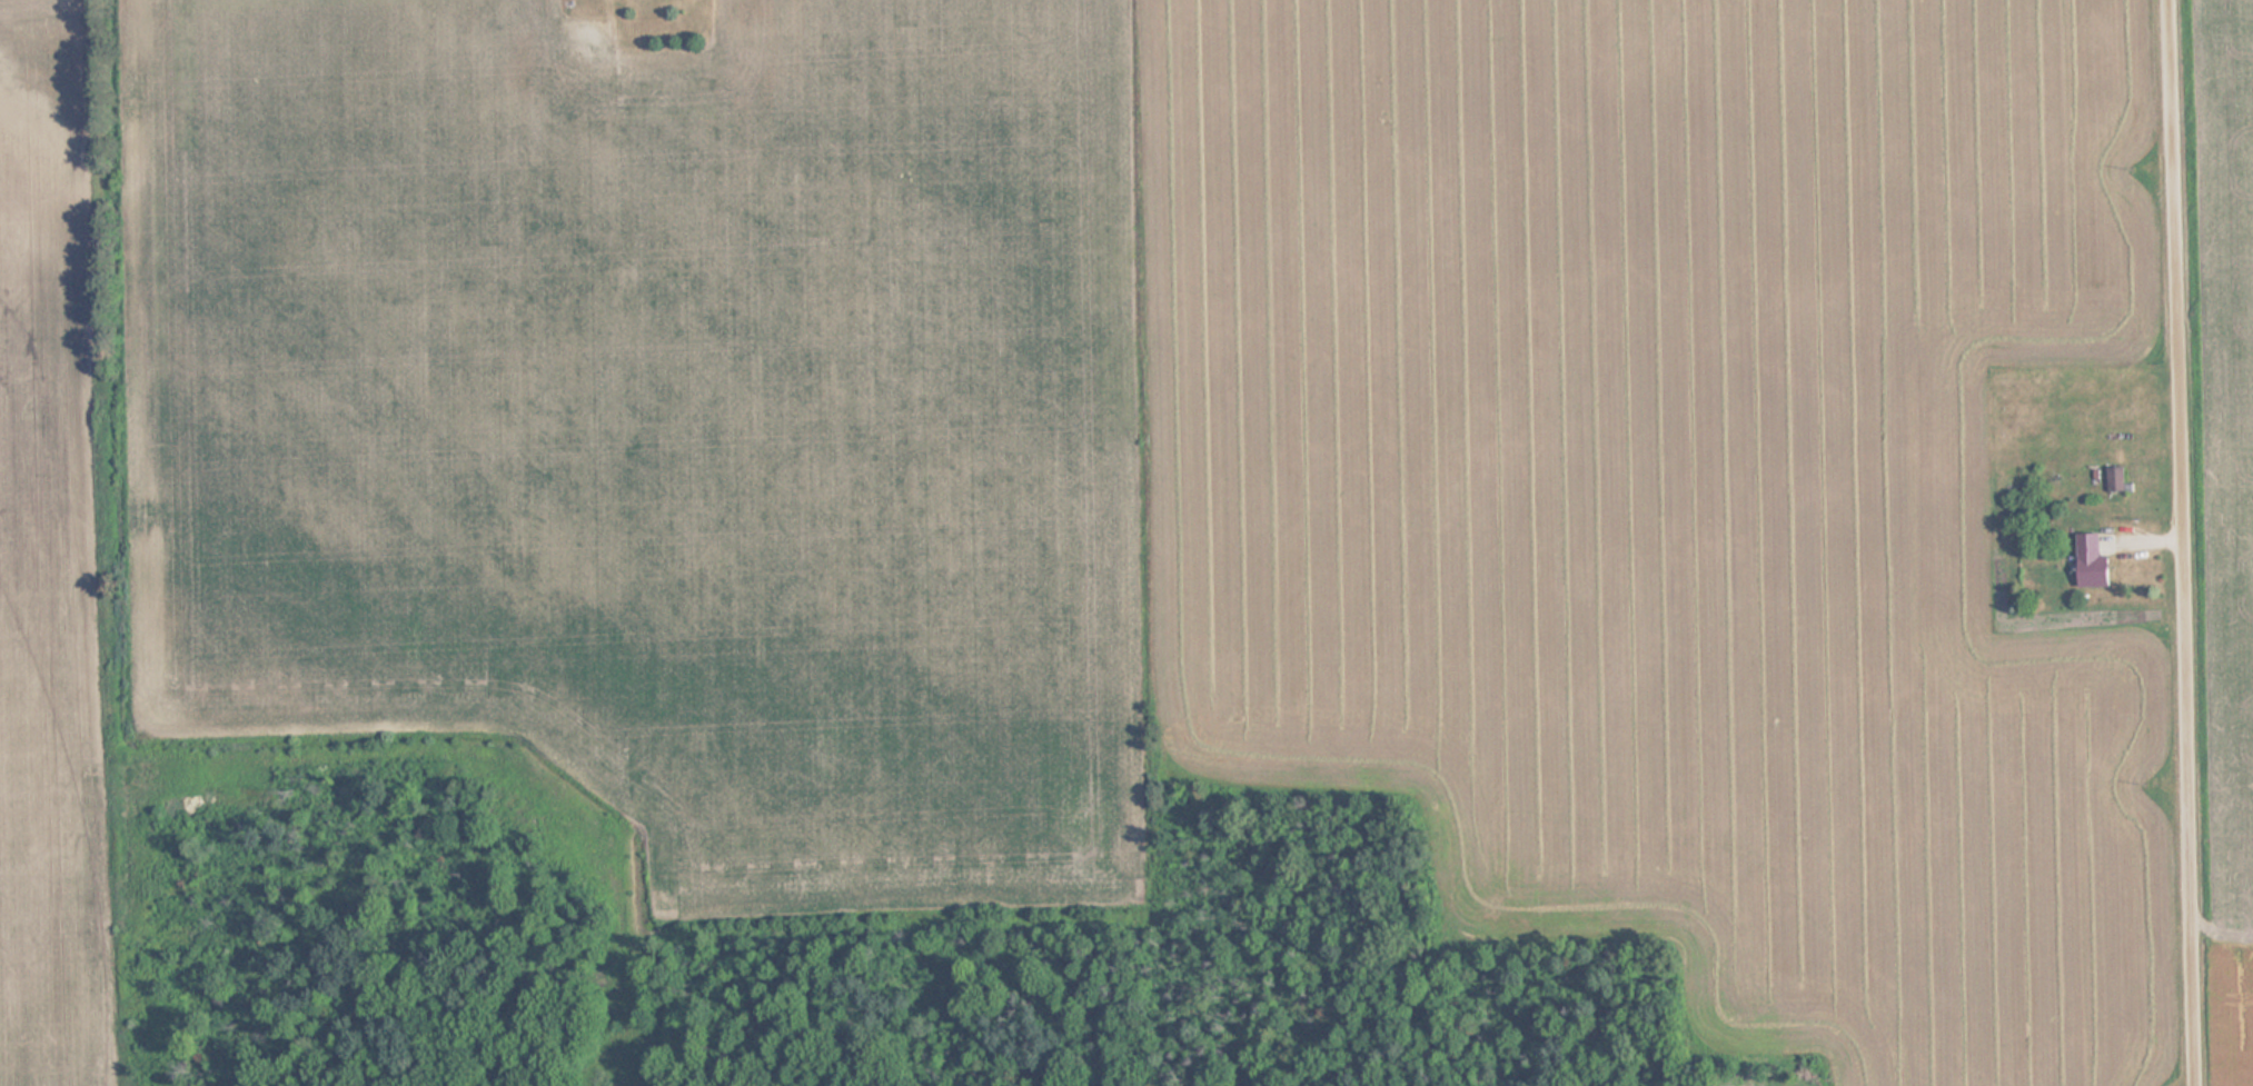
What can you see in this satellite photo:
building: (2112, 478)
road: (2184, 542)
building: (2087, 560)

